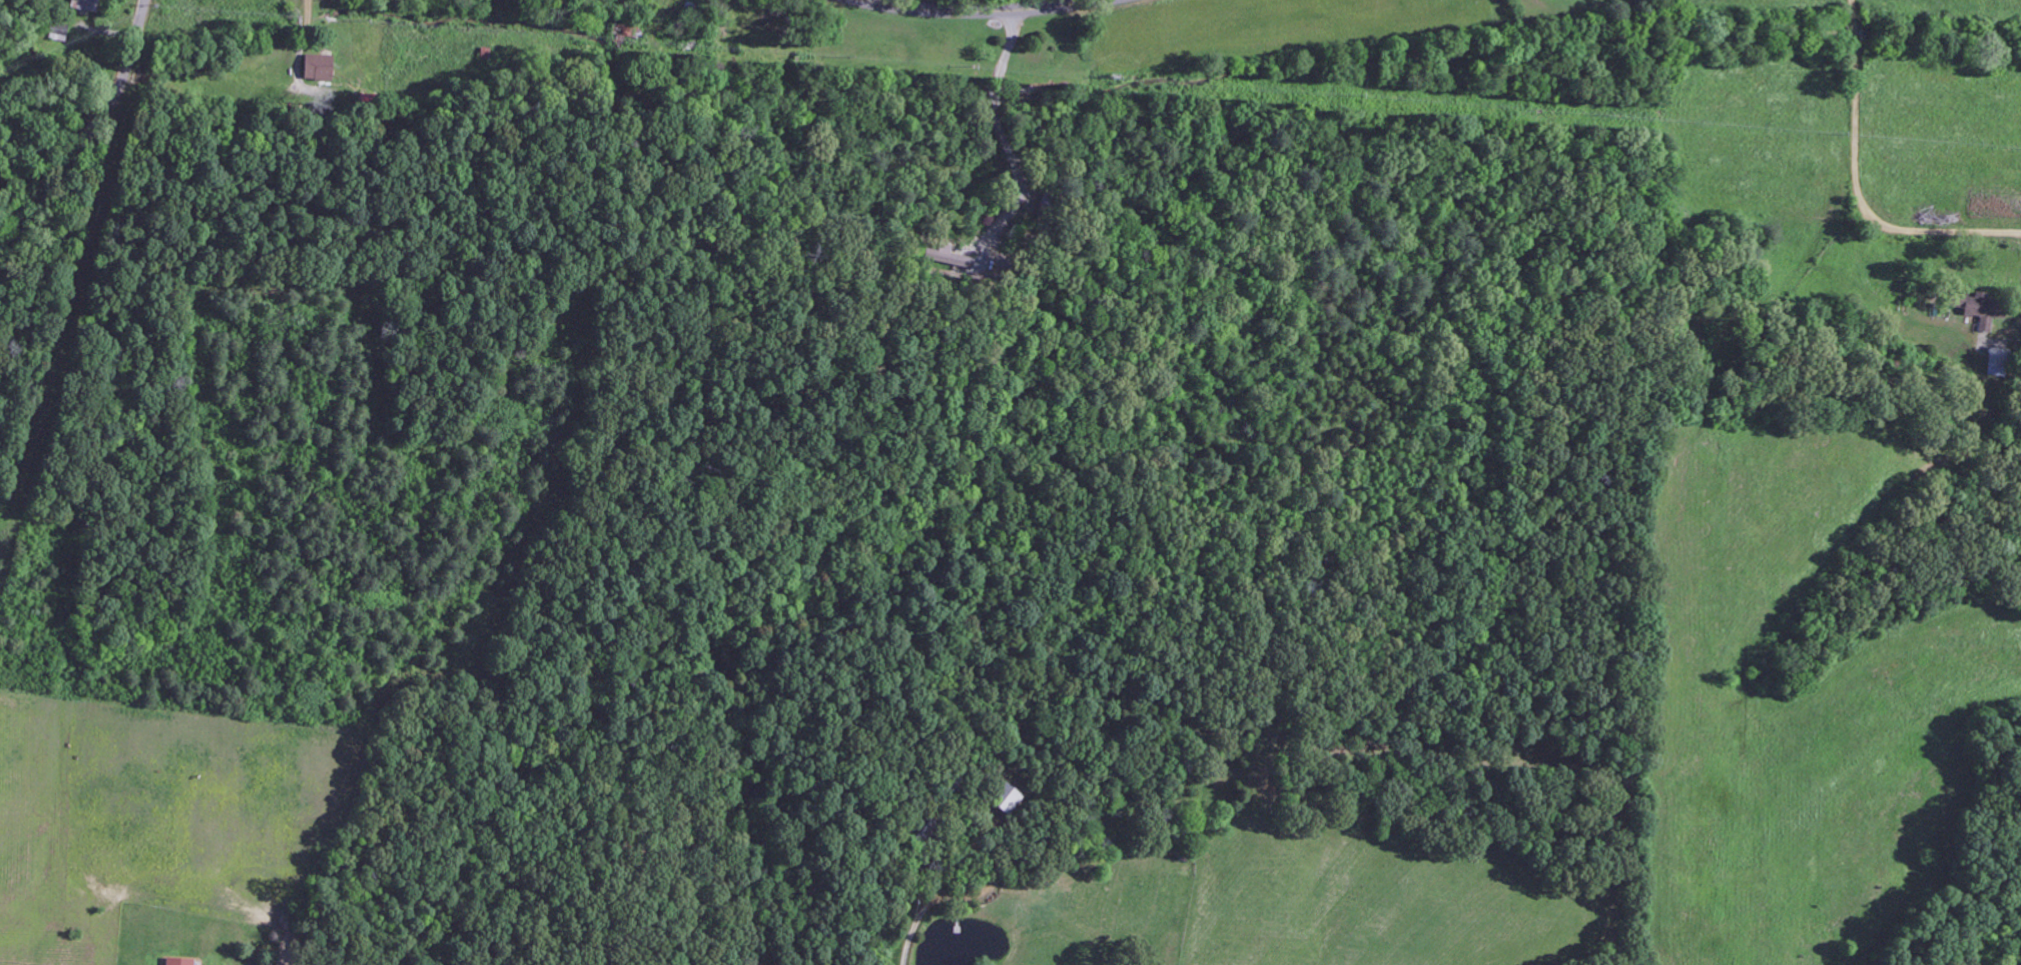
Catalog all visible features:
building: (84, 5)
road: (981, 11)
building: (59, 32)
building: (316, 68)
road: (1001, 126)
road: (90, 139)
road: (1858, 185)
building: (950, 257)
building: (1977, 309)
road: (2011, 330)
building: (1995, 362)
building: (1007, 799)
building: (177, 962)

